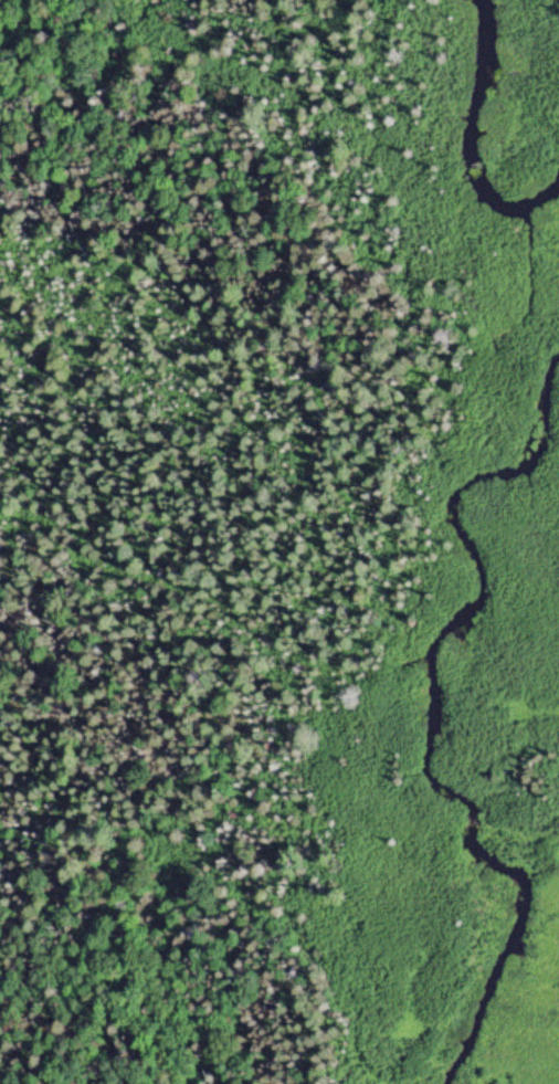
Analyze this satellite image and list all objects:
river: (471, 134)
river: (420, 725)

